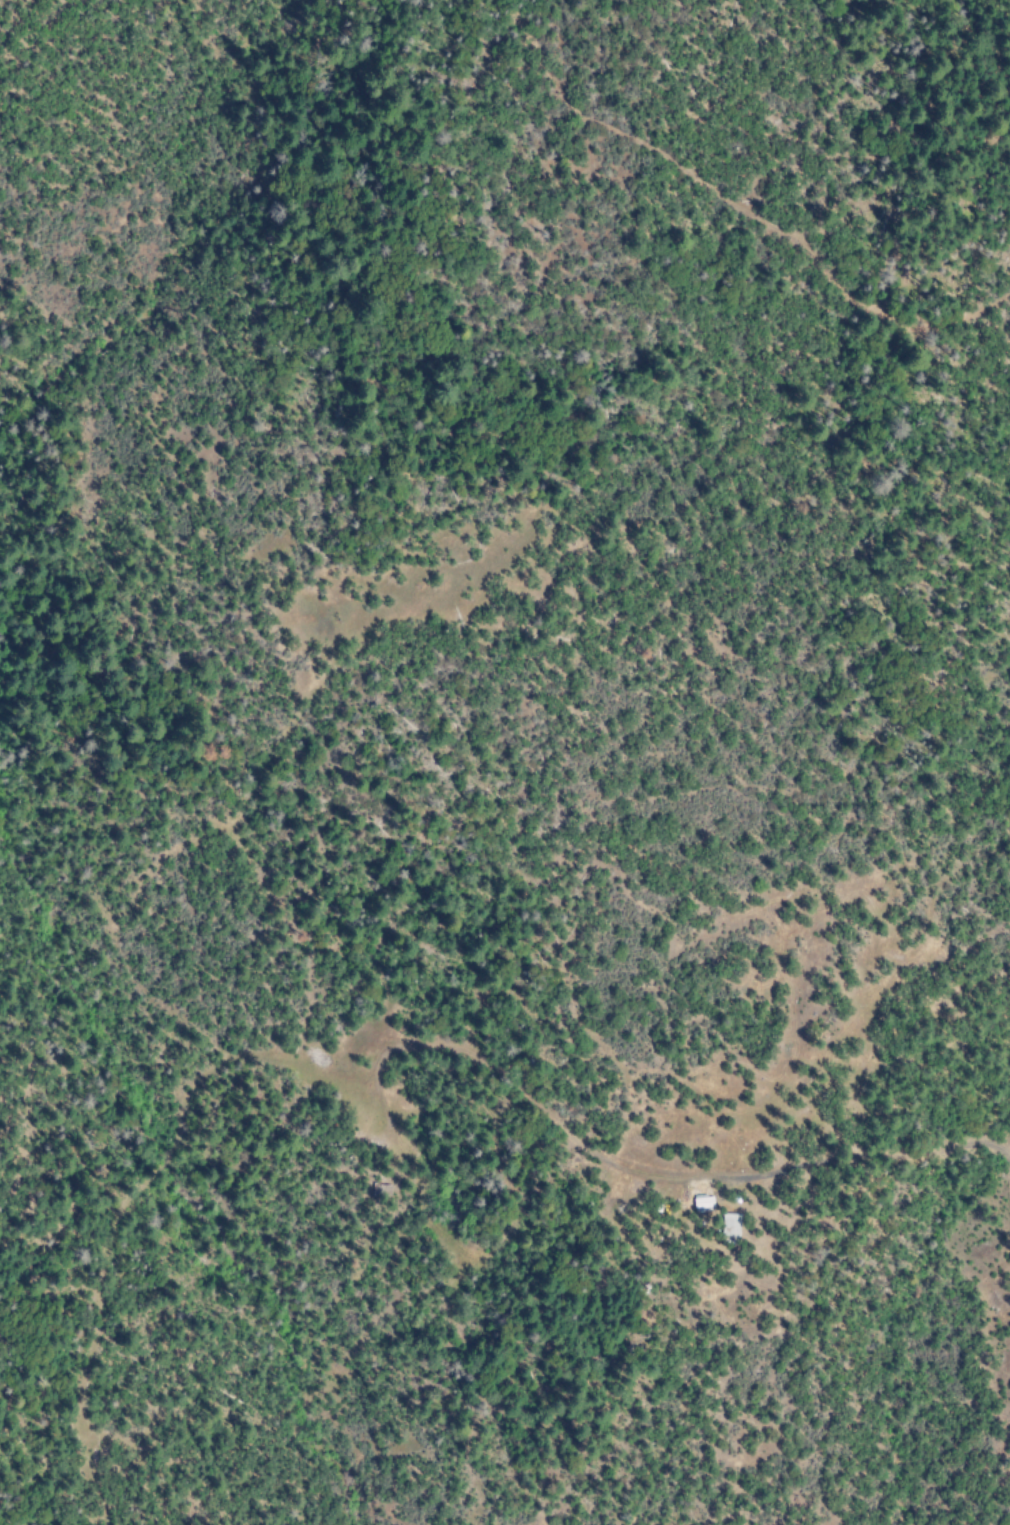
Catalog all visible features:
building: (732, 1220)

